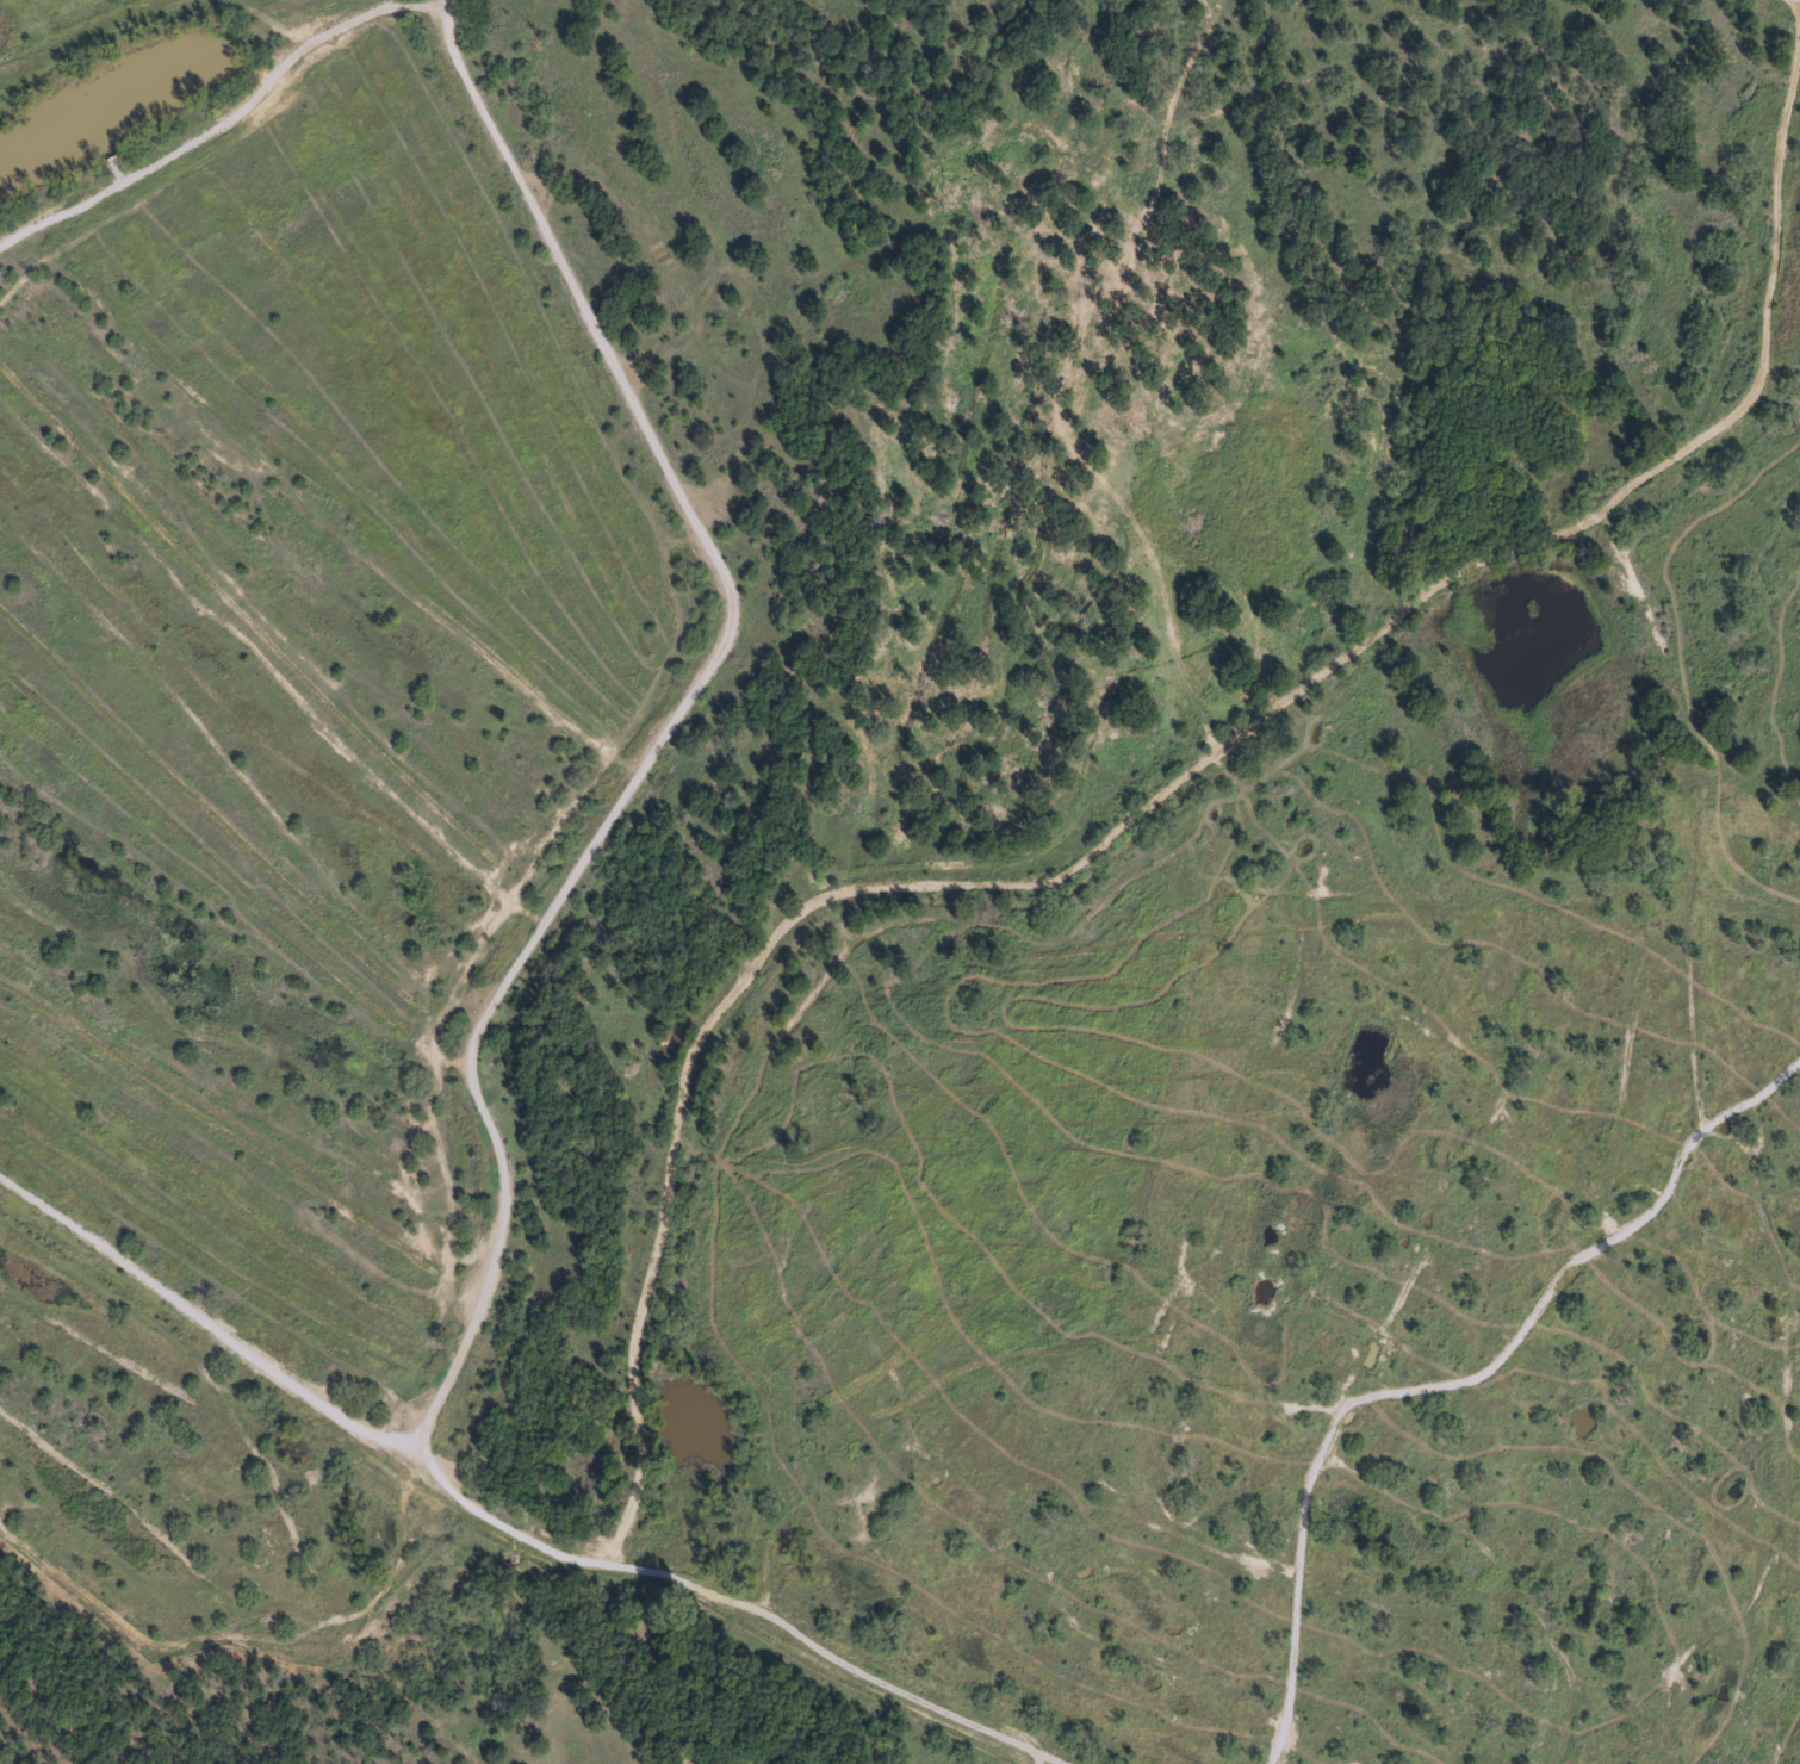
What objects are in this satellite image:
road: (1796, 5)
road: (672, 729)
road: (805, 923)
road: (1038, 1205)
road: (823, 1660)
road: (1032, 1762)

